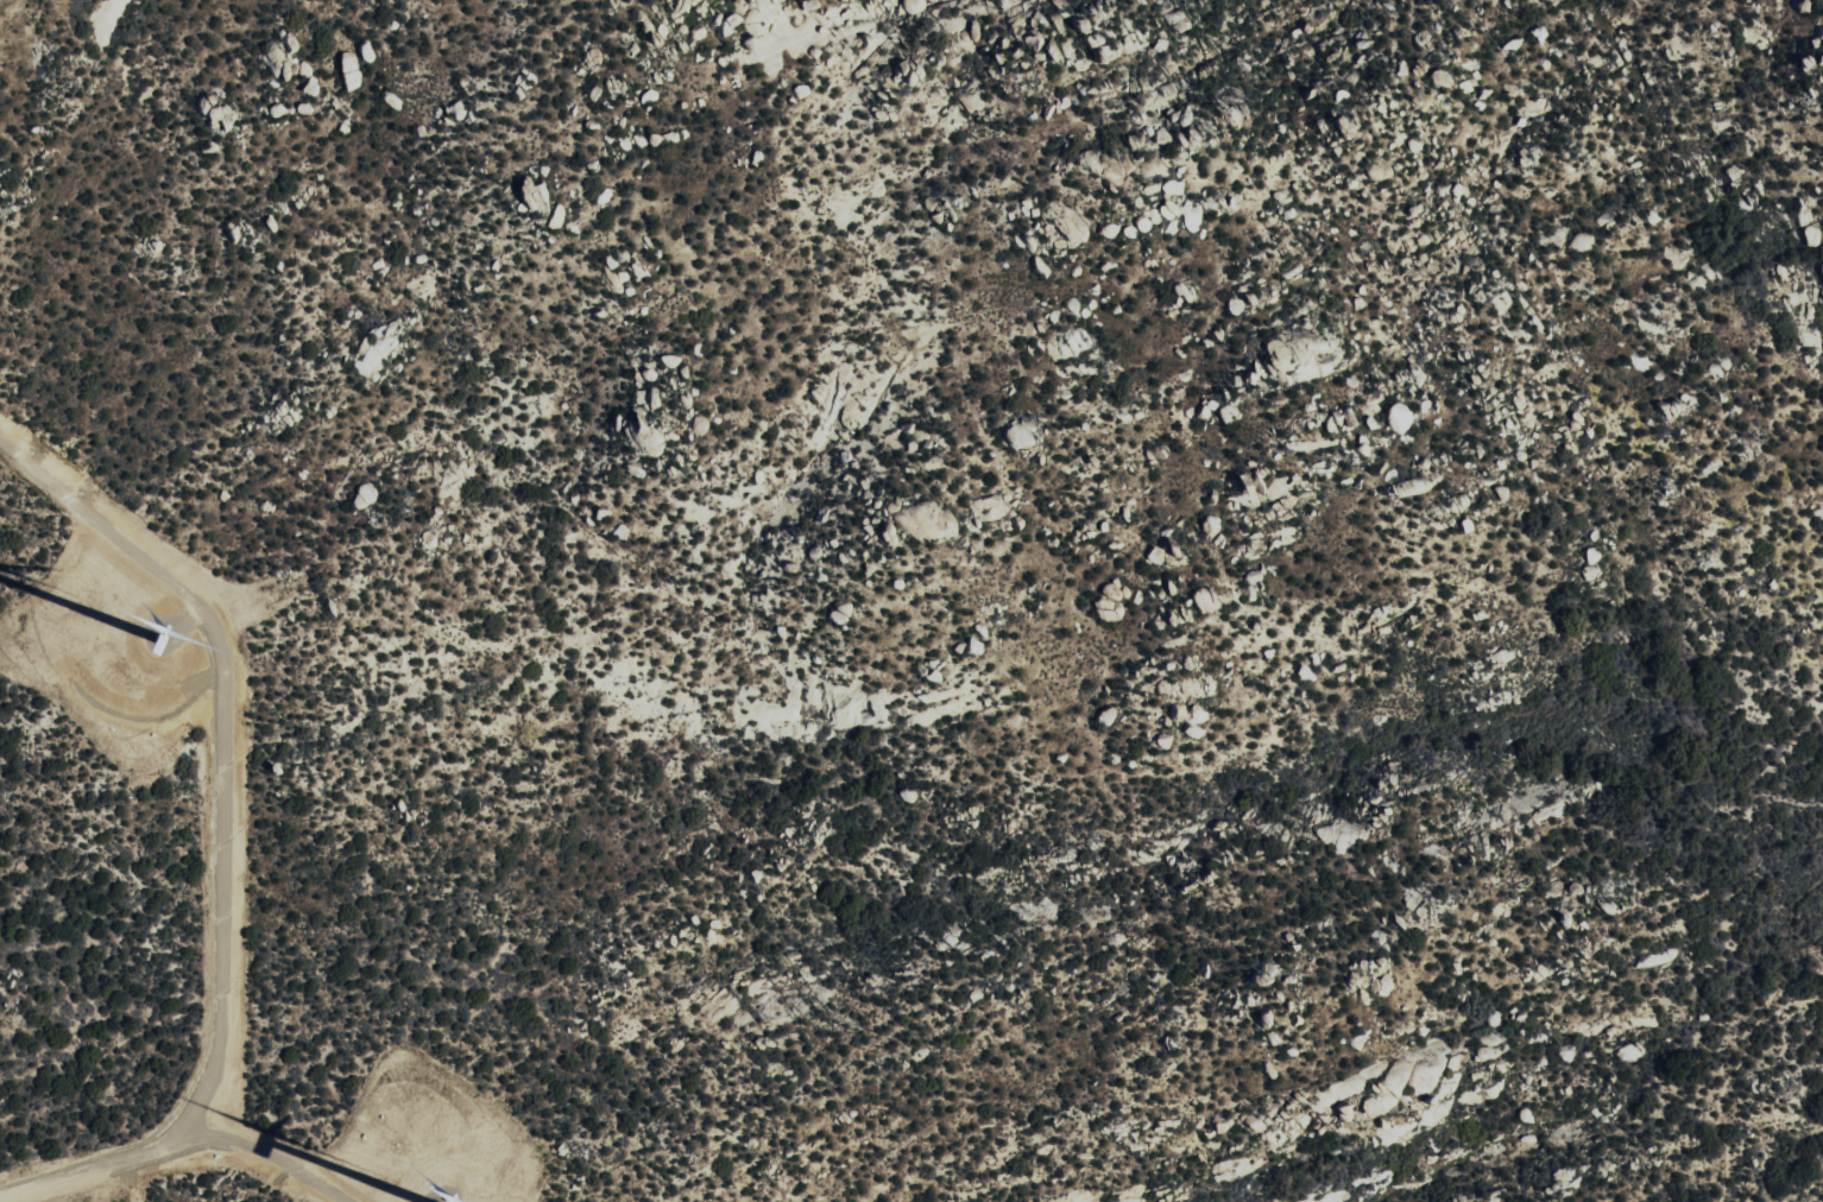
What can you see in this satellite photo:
building: (778, 1)
building: (922, 4)
building: (746, 19)
building: (978, 30)
building: (701, 32)
building: (1116, 33)
building: (292, 43)
building: (1070, 53)
building: (354, 70)
building: (314, 86)
building: (616, 87)
building: (805, 90)
building: (976, 99)
building: (215, 108)
building: (279, 110)
building: (538, 194)
building: (1181, 209)
building: (560, 216)
building: (1146, 223)
building: (1112, 229)
building: (656, 397)
building: (1210, 409)
building: (1231, 412)
building: (1348, 418)
building: (1403, 418)
building: (705, 425)
building: (1413, 487)
building: (1251, 492)
building: (367, 496)
building: (996, 506)
building: (931, 521)
building: (1179, 544)
building: (1160, 555)
building: (1207, 600)
building: (1115, 601)
building: (844, 613)
wind turbine: (160, 638)
building: (936, 677)
building: (1167, 740)
road: (225, 843)
road: (272, 1154)

